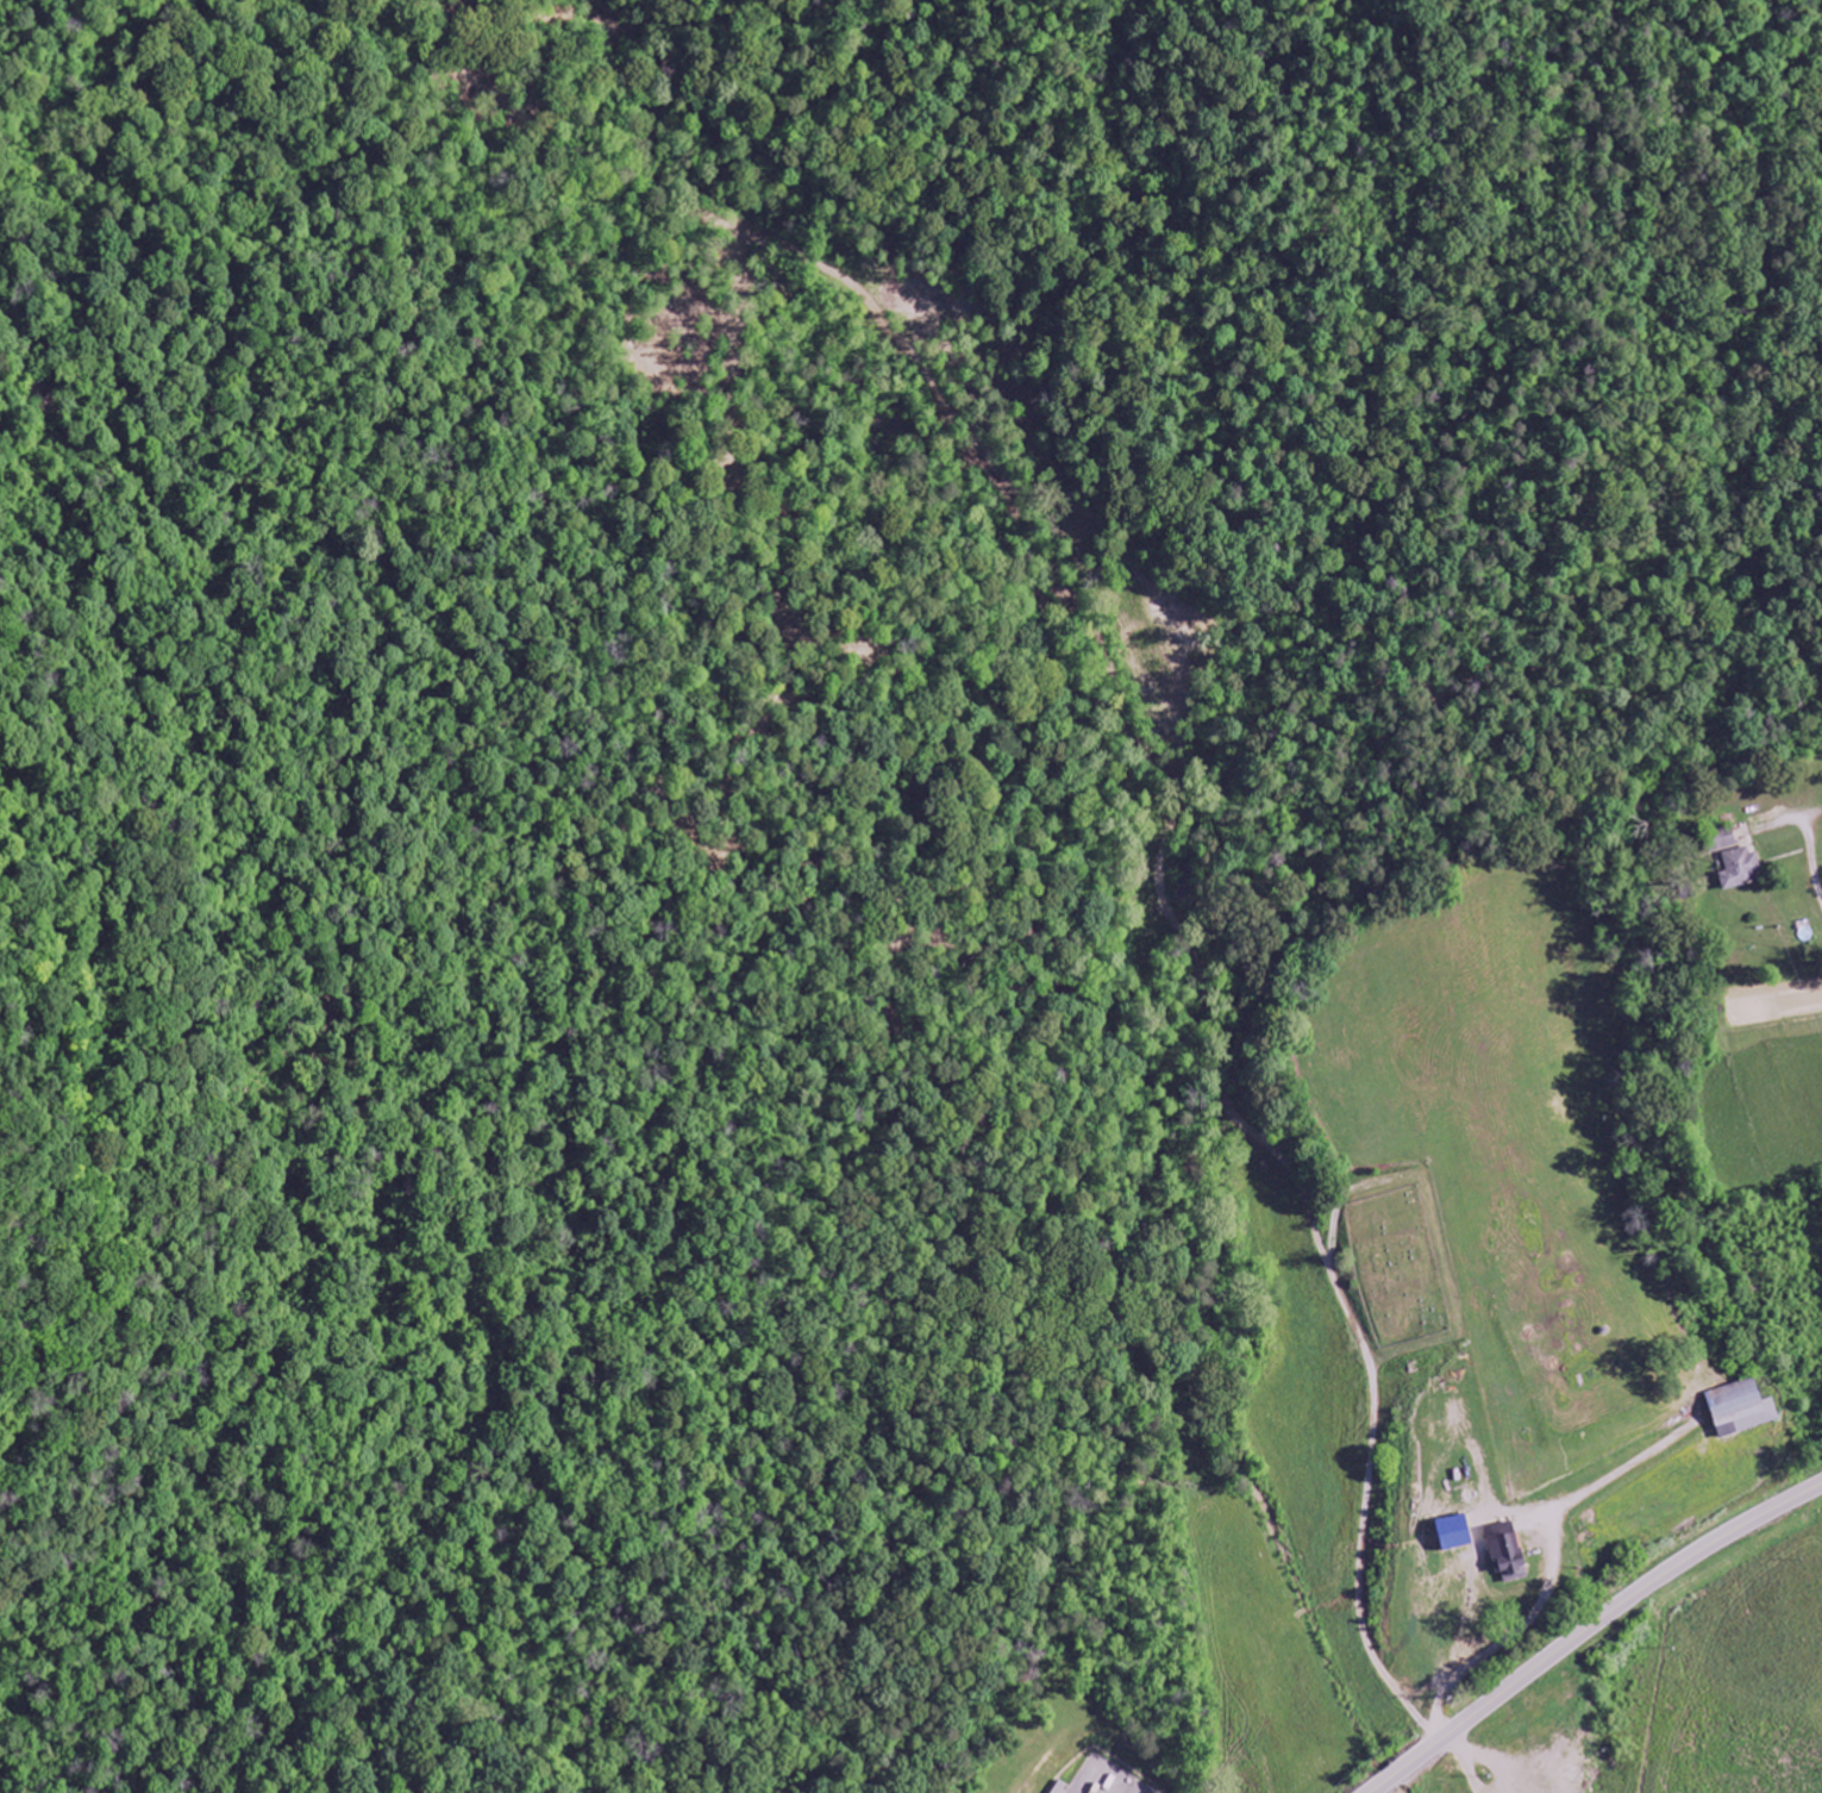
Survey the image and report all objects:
road: (1158, 813)
building: (1728, 838)
road: (1807, 838)
building: (1741, 868)
road: (1333, 1226)
park: (1396, 1264)
building: (1741, 1407)
building: (1455, 1532)
building: (1508, 1551)
road: (1552, 1564)
road: (1590, 1628)
road: (1469, 1761)

